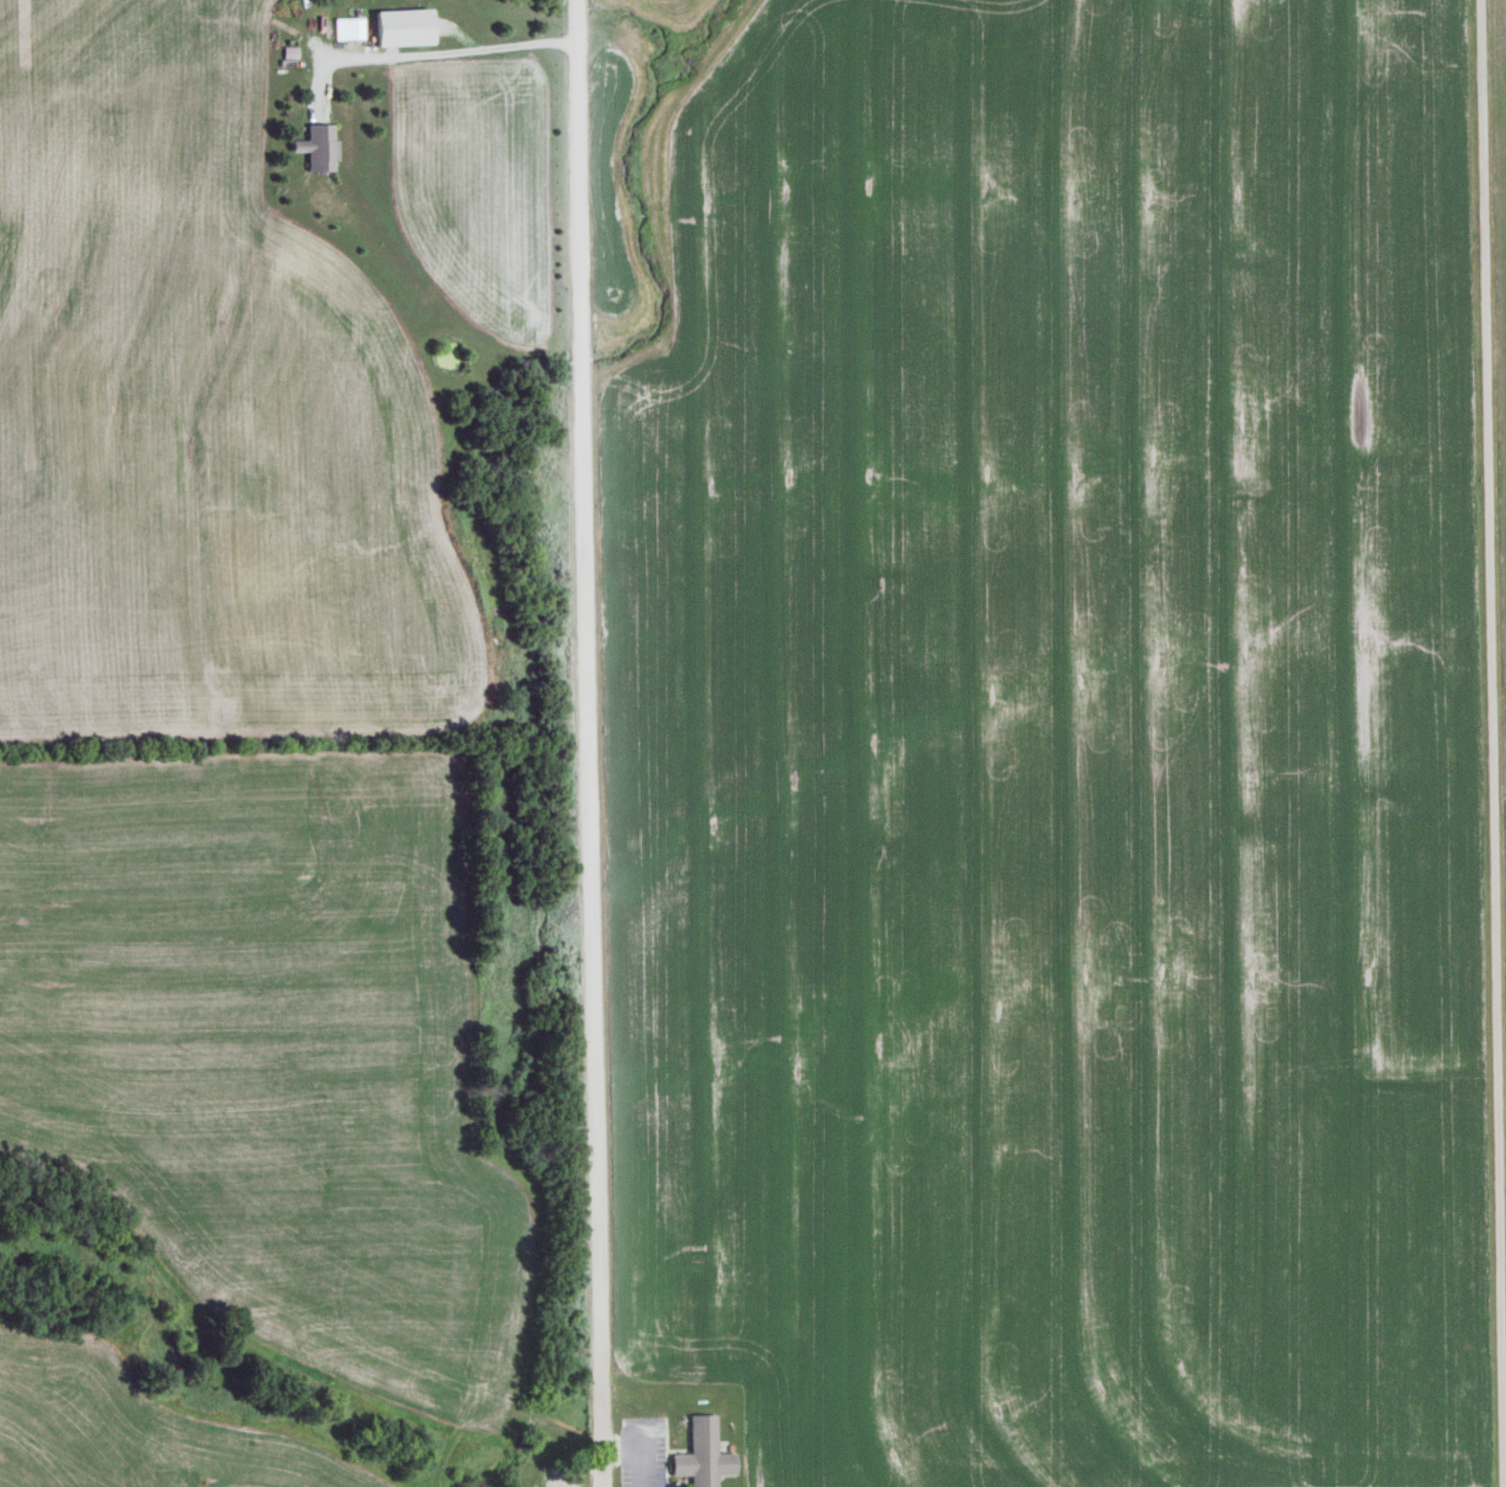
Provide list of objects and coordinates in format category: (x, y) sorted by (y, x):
building: (349, 27)
building: (385, 27)
building: (317, 146)
road: (587, 743)
road: (1491, 743)
building: (703, 1455)

